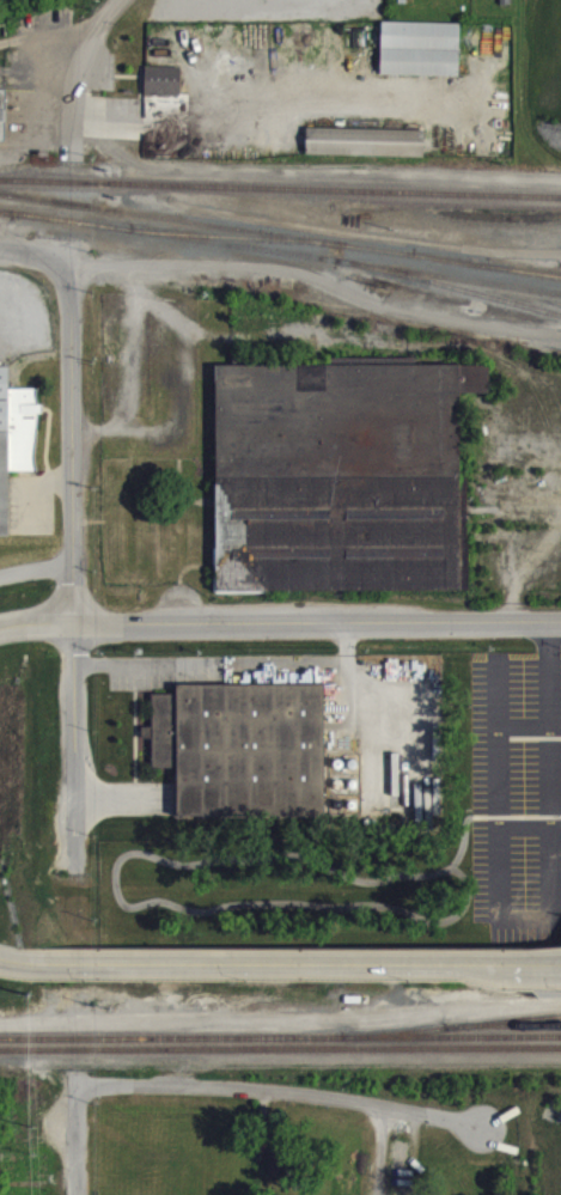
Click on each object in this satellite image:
building: (402, 1)
building: (421, 59)
road: (83, 75)
building: (164, 90)
building: (2, 123)
building: (366, 151)
railway: (280, 197)
railway: (0, 220)
railway: (0, 220)
road: (344, 242)
railway: (280, 244)
railway: (230, 246)
road: (31, 252)
railway: (281, 261)
railway: (498, 270)
road: (315, 289)
railway: (441, 293)
railway: (90, 389)
road: (71, 443)
building: (16, 449)
building: (339, 472)
road: (36, 488)
road: (36, 580)
road: (37, 621)
road: (317, 621)
road: (209, 664)
road: (346, 670)
road: (530, 734)
road: (75, 736)
building: (240, 745)
road: (554, 775)
road: (121, 795)
road: (501, 823)
road: (531, 837)
road: (279, 964)
railway: (520, 1018)
railway: (434, 1028)
road: (29, 1034)
railway: (280, 1036)
railway: (280, 1045)
road: (283, 1087)
road: (78, 1140)
road: (377, 1150)
building: (283, 1171)

